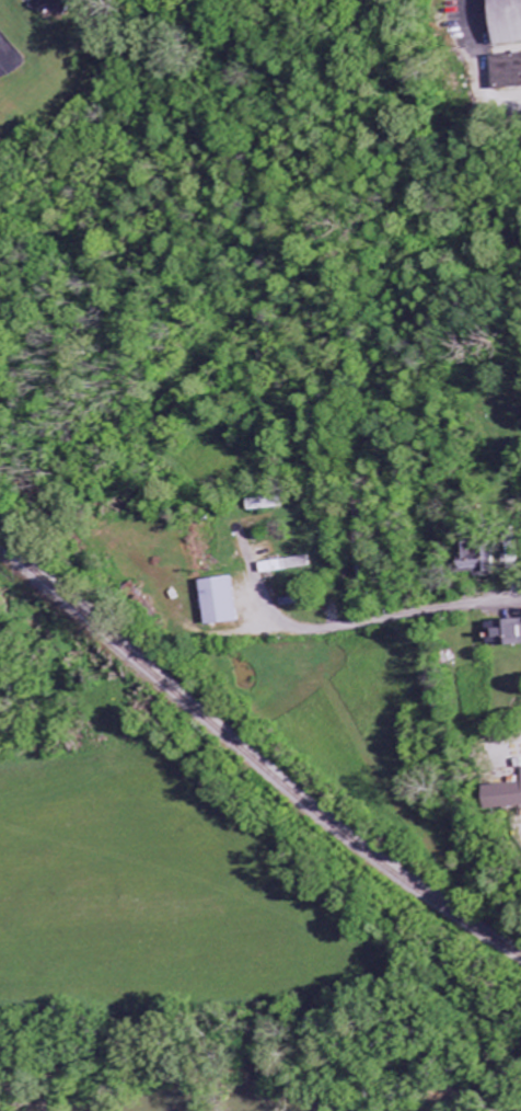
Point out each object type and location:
building: (62, 5)
building: (506, 22)
road: (483, 62)
building: (511, 72)
building: (265, 504)
building: (483, 563)
building: (286, 565)
building: (227, 603)
road: (352, 625)
building: (508, 634)
railway: (253, 753)
building: (509, 798)

